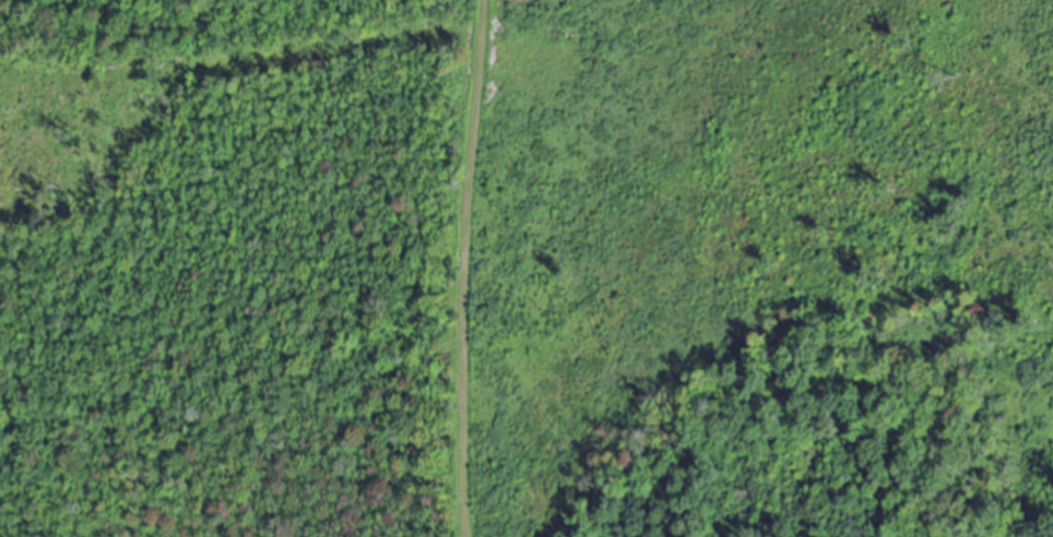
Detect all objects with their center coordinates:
road: (459, 267)

